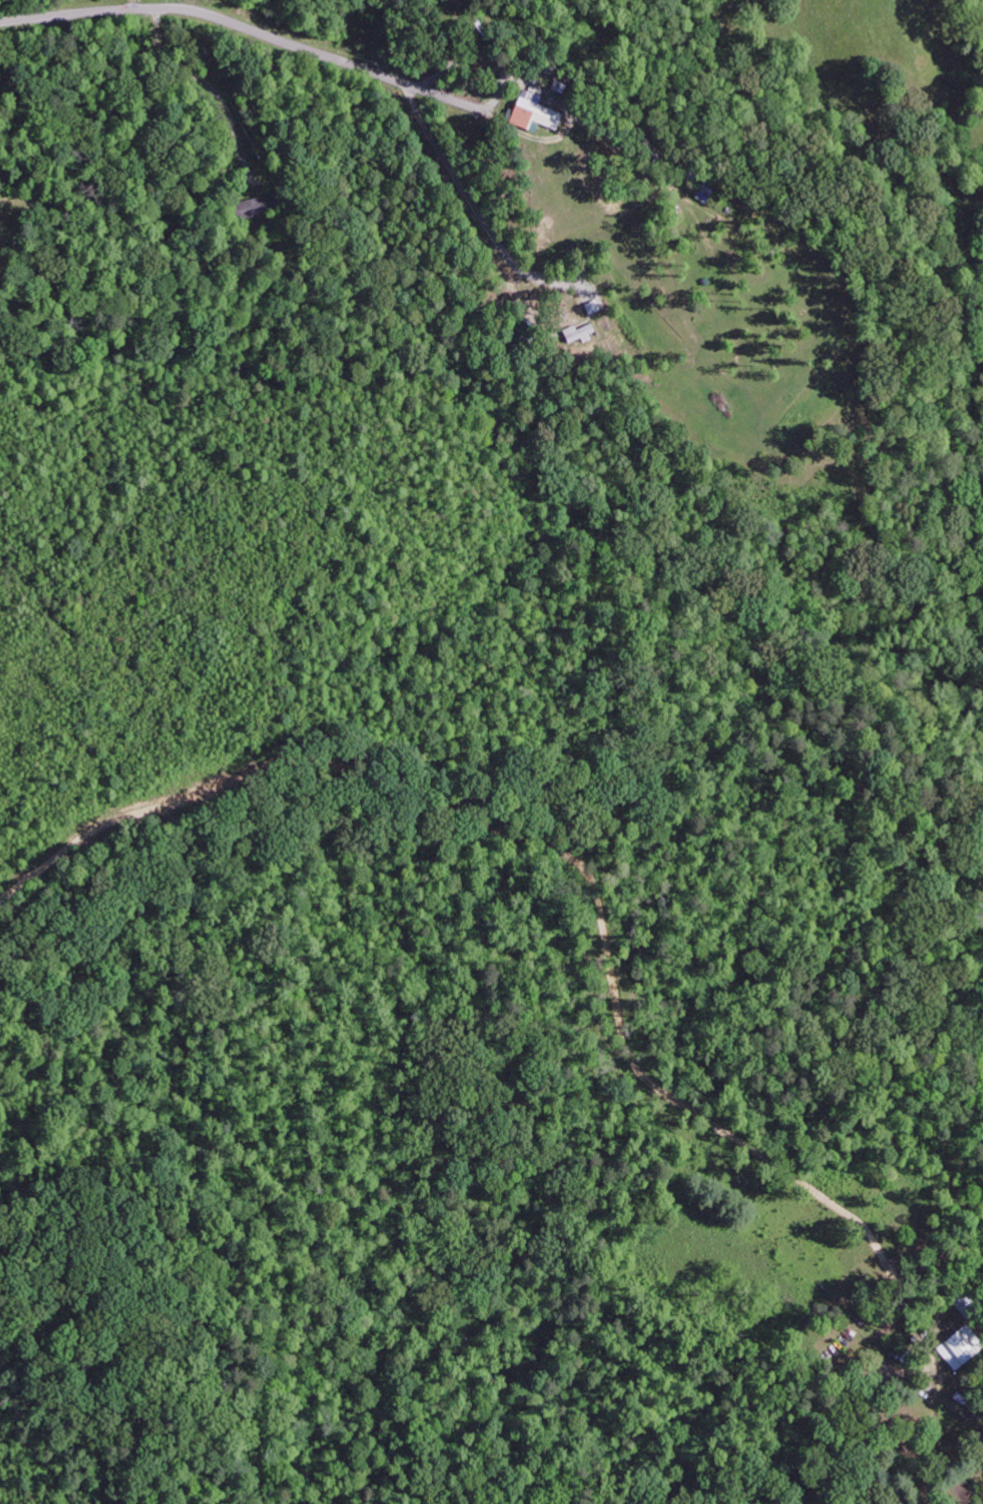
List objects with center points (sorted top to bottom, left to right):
road: (244, 28)
building: (531, 112)
road: (473, 206)
building: (255, 209)
road: (83, 1174)
building: (954, 1349)

